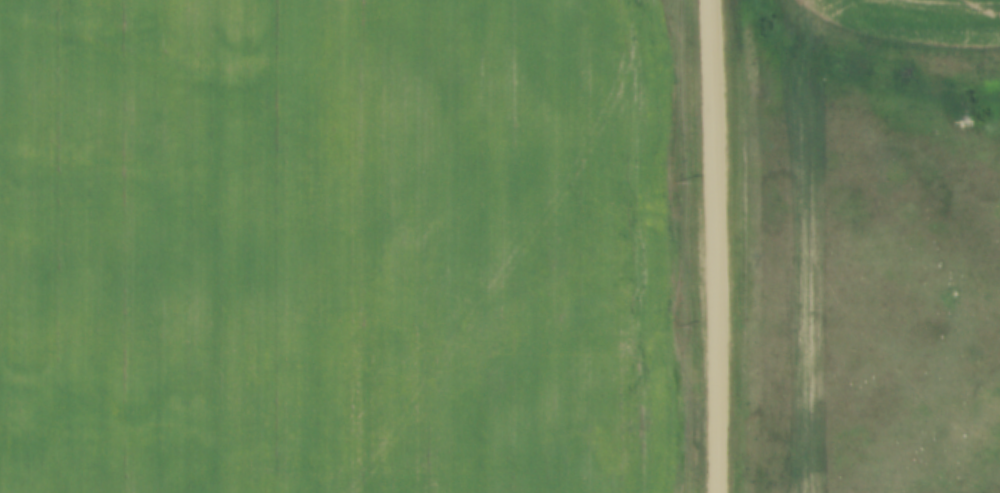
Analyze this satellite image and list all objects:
road: (715, 246)

